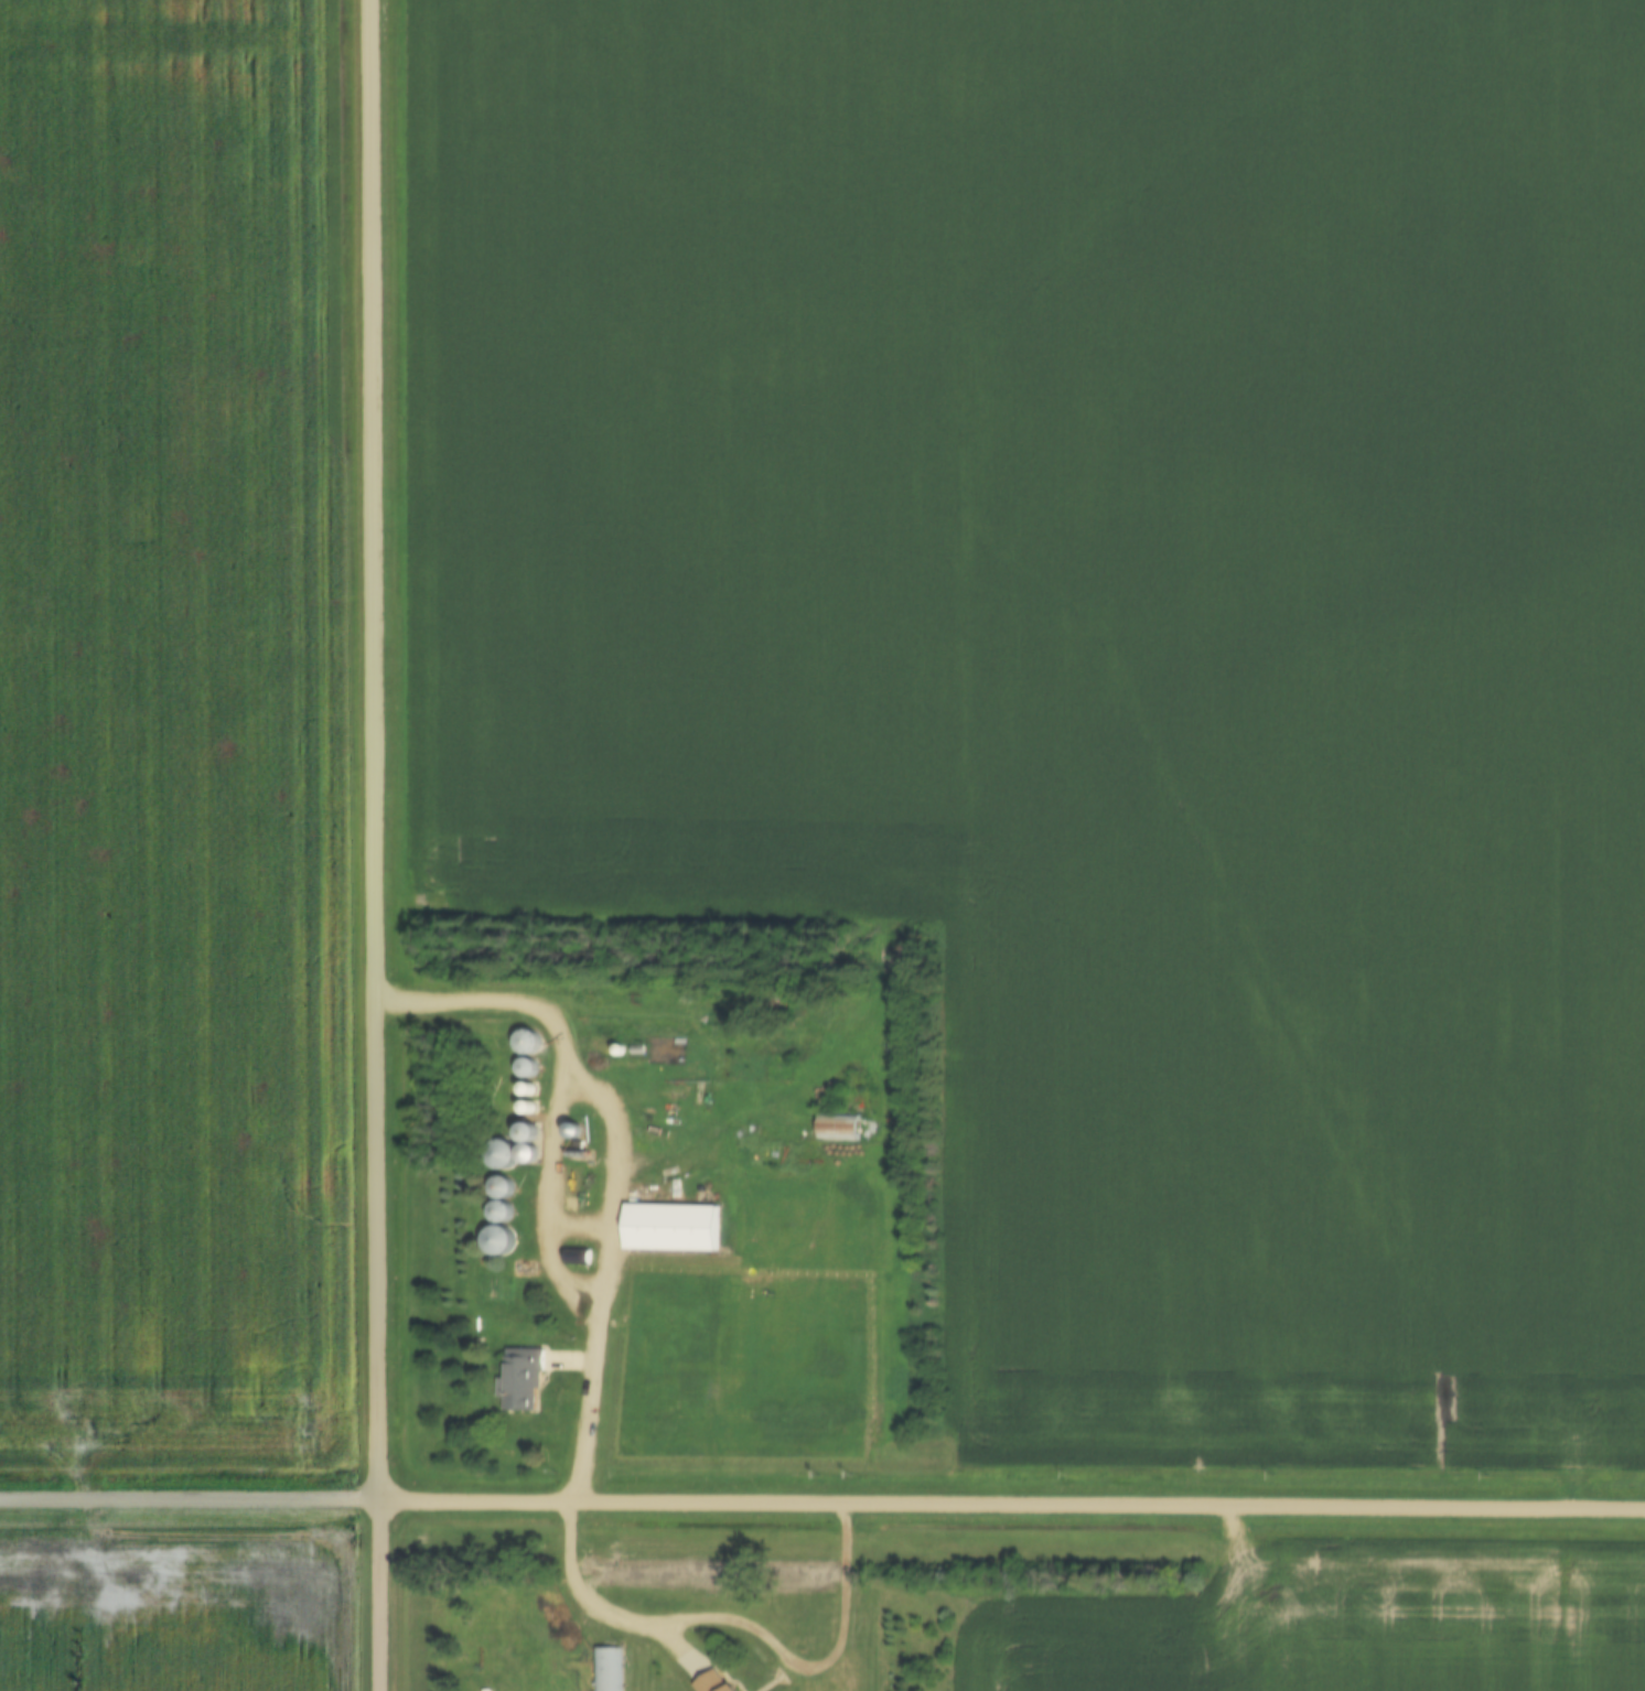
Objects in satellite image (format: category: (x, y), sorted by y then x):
road: (384, 846)
road: (684, 1013)
building: (503, 1155)
road: (615, 1159)
building: (504, 1189)
road: (560, 1200)
building: (673, 1228)
building: (501, 1240)
building: (579, 1257)
building: (524, 1269)
building: (657, 1278)
building: (523, 1380)
road: (822, 1504)
road: (749, 1620)
building: (606, 1669)
building: (719, 1682)

